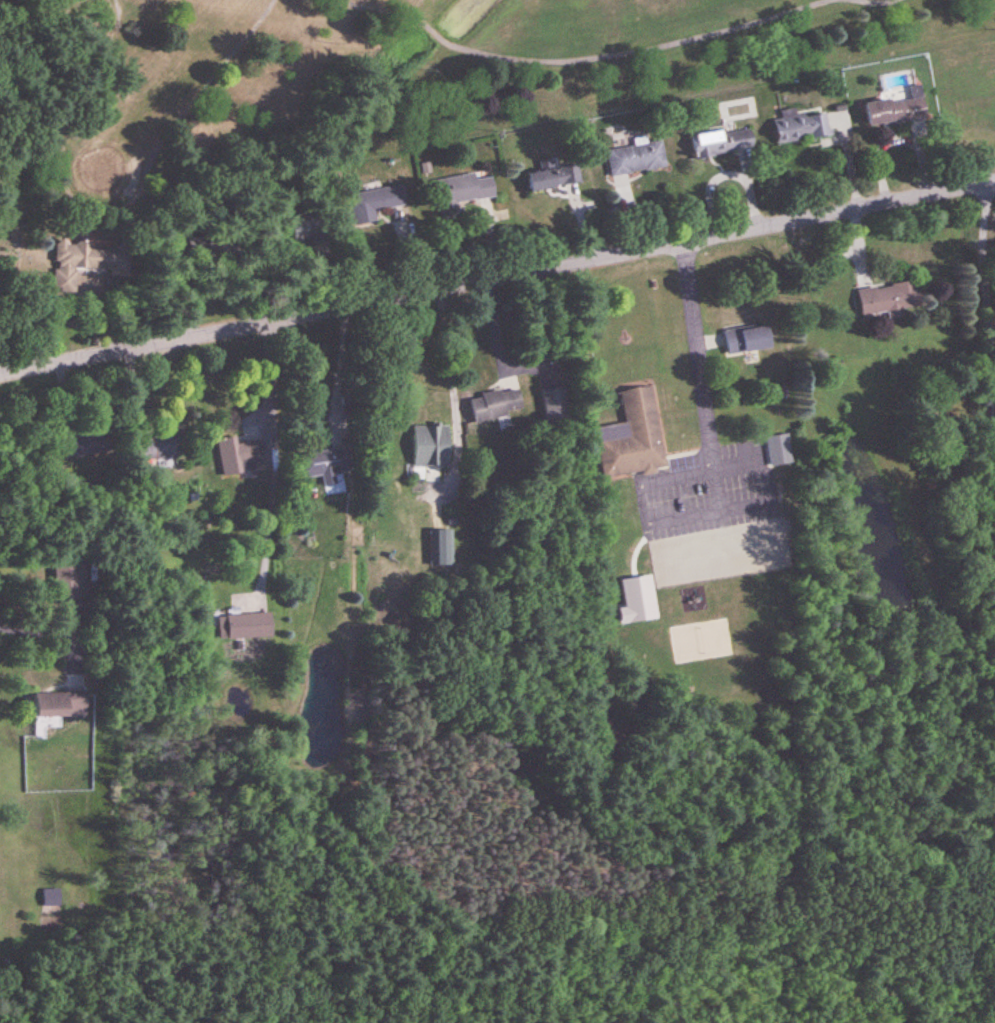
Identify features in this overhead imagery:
park: (395, 76)
building: (897, 107)
building: (801, 127)
building: (722, 143)
building: (636, 159)
building: (554, 178)
building: (464, 190)
building: (374, 203)
building: (298, 230)
building: (195, 247)
building: (81, 261)
road: (497, 276)
road: (986, 284)
building: (890, 299)
building: (747, 340)
road: (693, 353)
road: (337, 370)
road: (451, 371)
road: (268, 379)
building: (495, 405)
building: (555, 405)
building: (634, 439)
building: (80, 445)
building: (431, 446)
building: (779, 450)
building: (156, 451)
building: (238, 454)
building: (323, 466)
building: (67, 582)
building: (246, 626)
road: (28, 631)
building: (59, 705)

